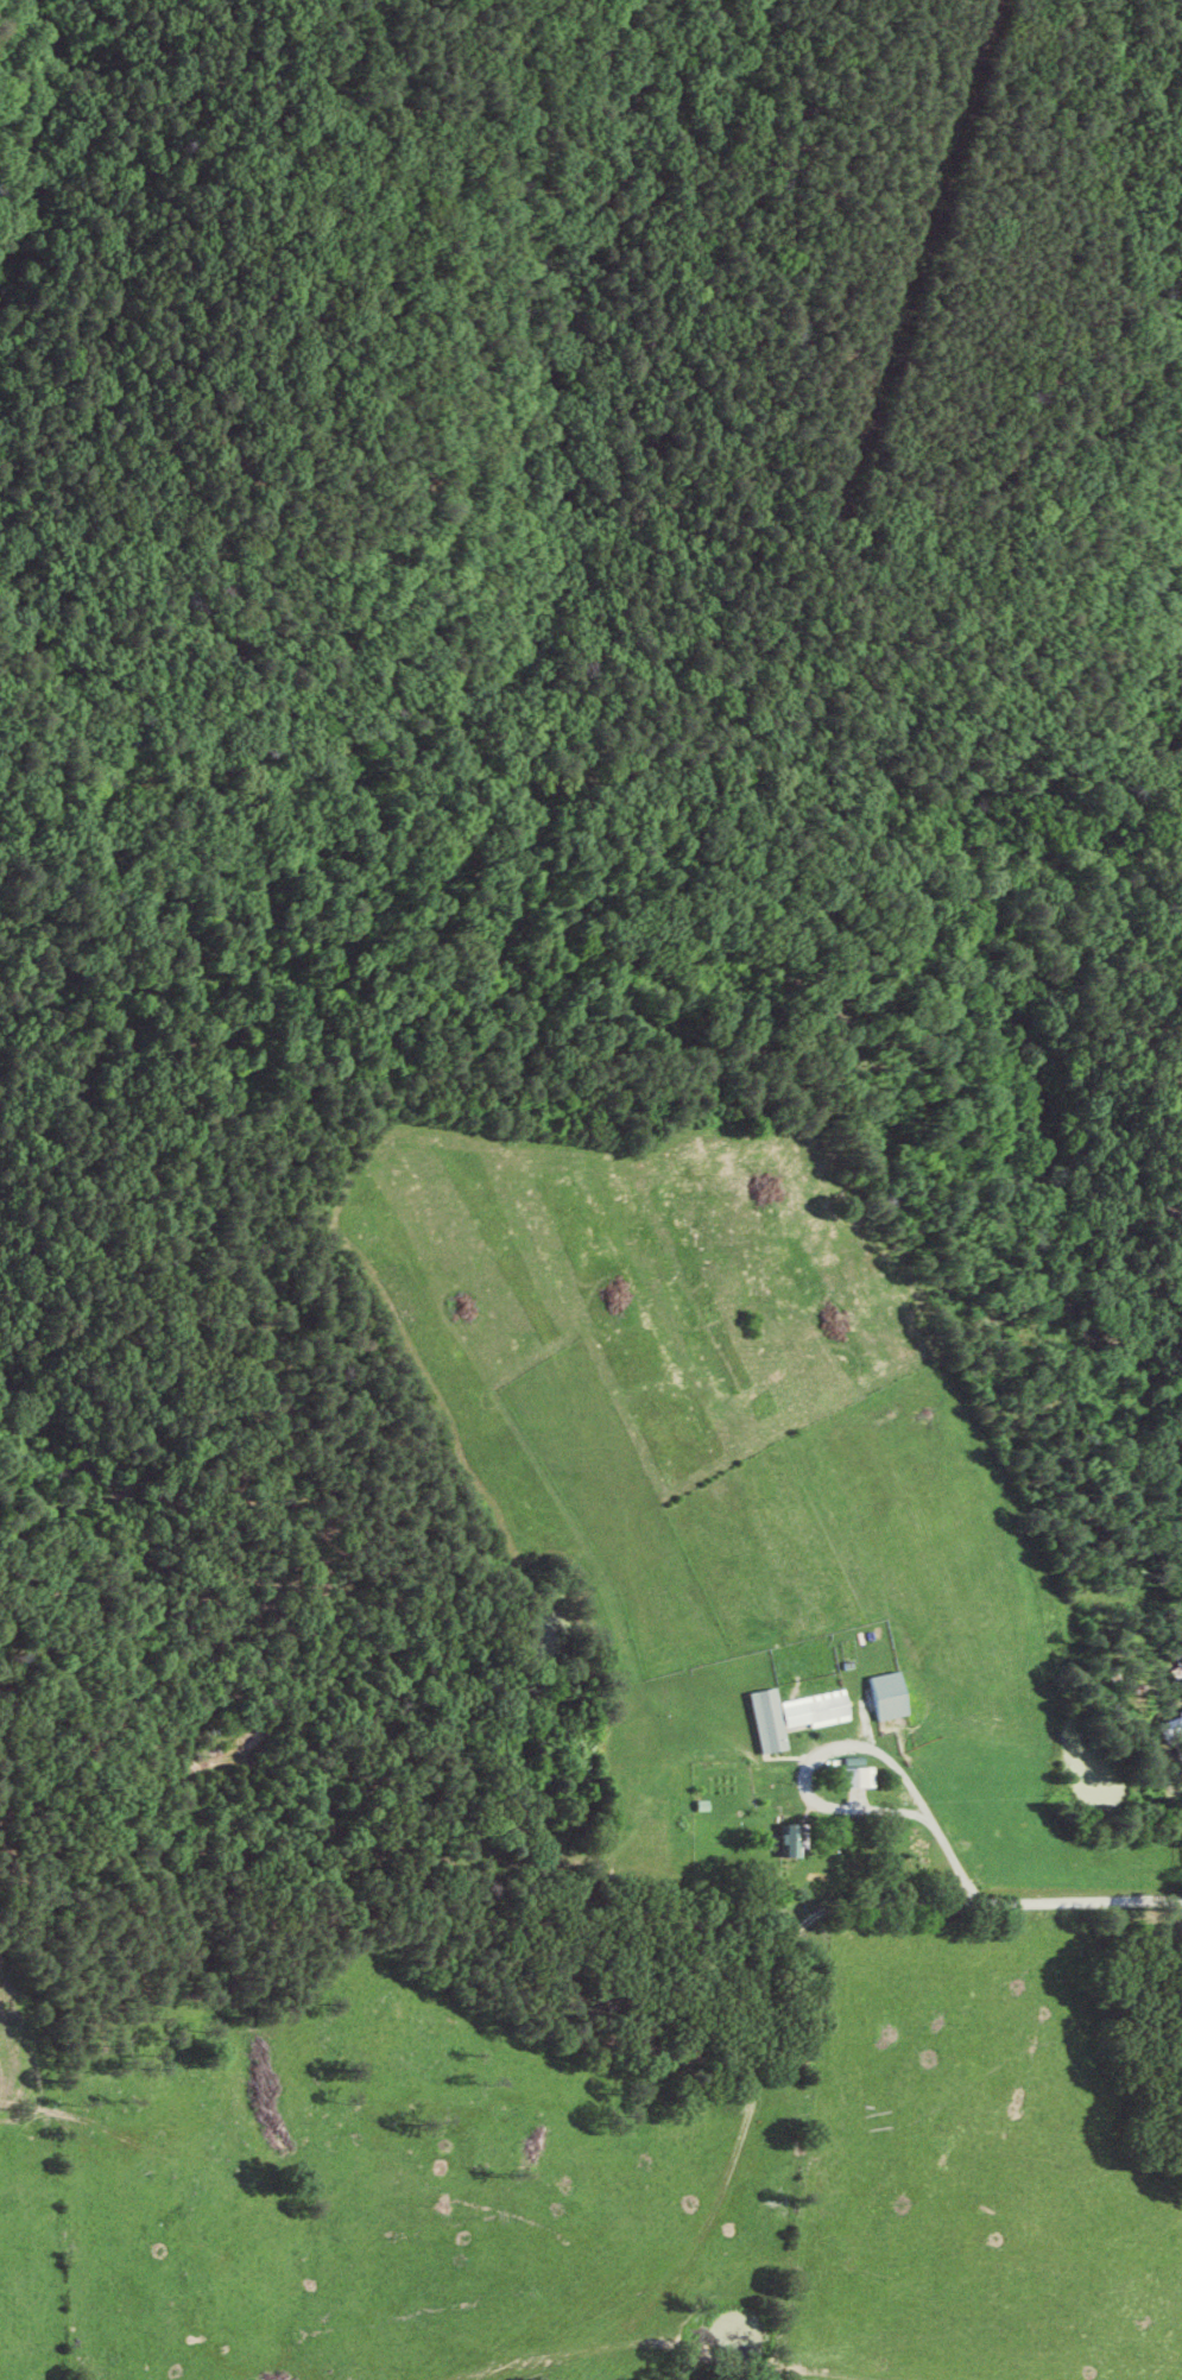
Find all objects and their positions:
building: (893, 1693)
building: (821, 1707)
building: (775, 1718)
road: (846, 1738)
building: (862, 1775)
building: (798, 1839)
road: (1028, 1899)

